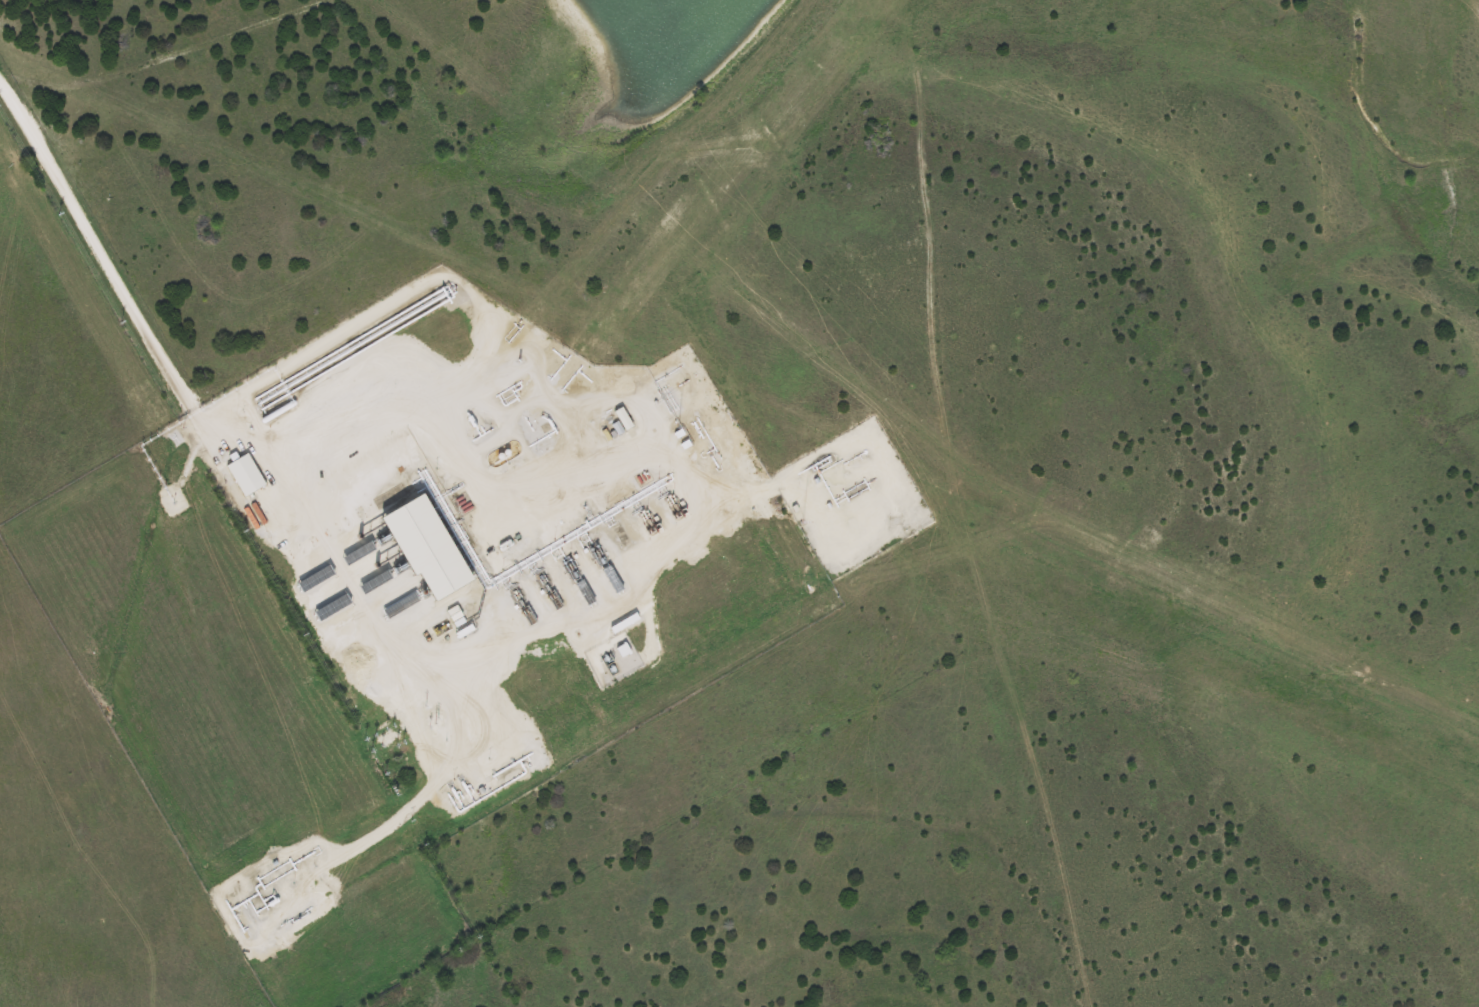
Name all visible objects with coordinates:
road: (168, 56)
road: (189, 406)
building: (248, 476)
building: (433, 550)
building: (319, 580)
building: (626, 624)

